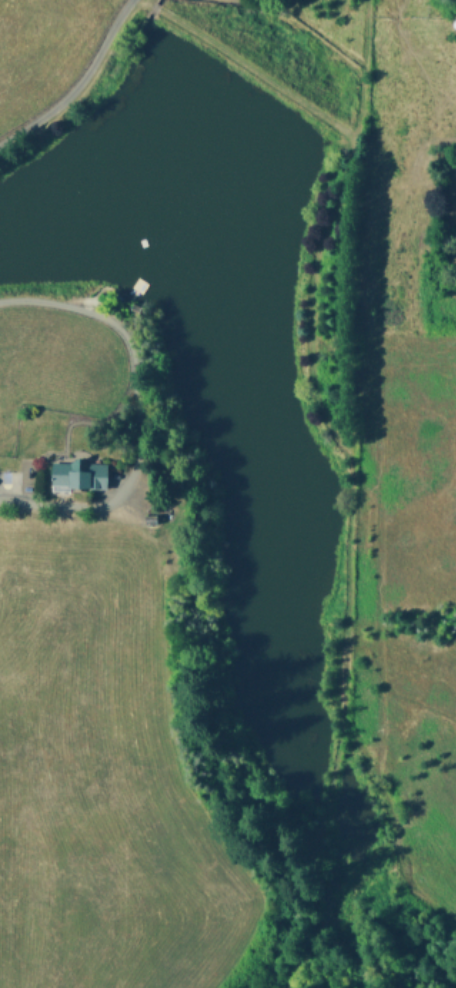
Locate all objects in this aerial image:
road: (83, 90)
road: (140, 410)
crop: (168, 474)
building: (76, 475)
building: (22, 480)

